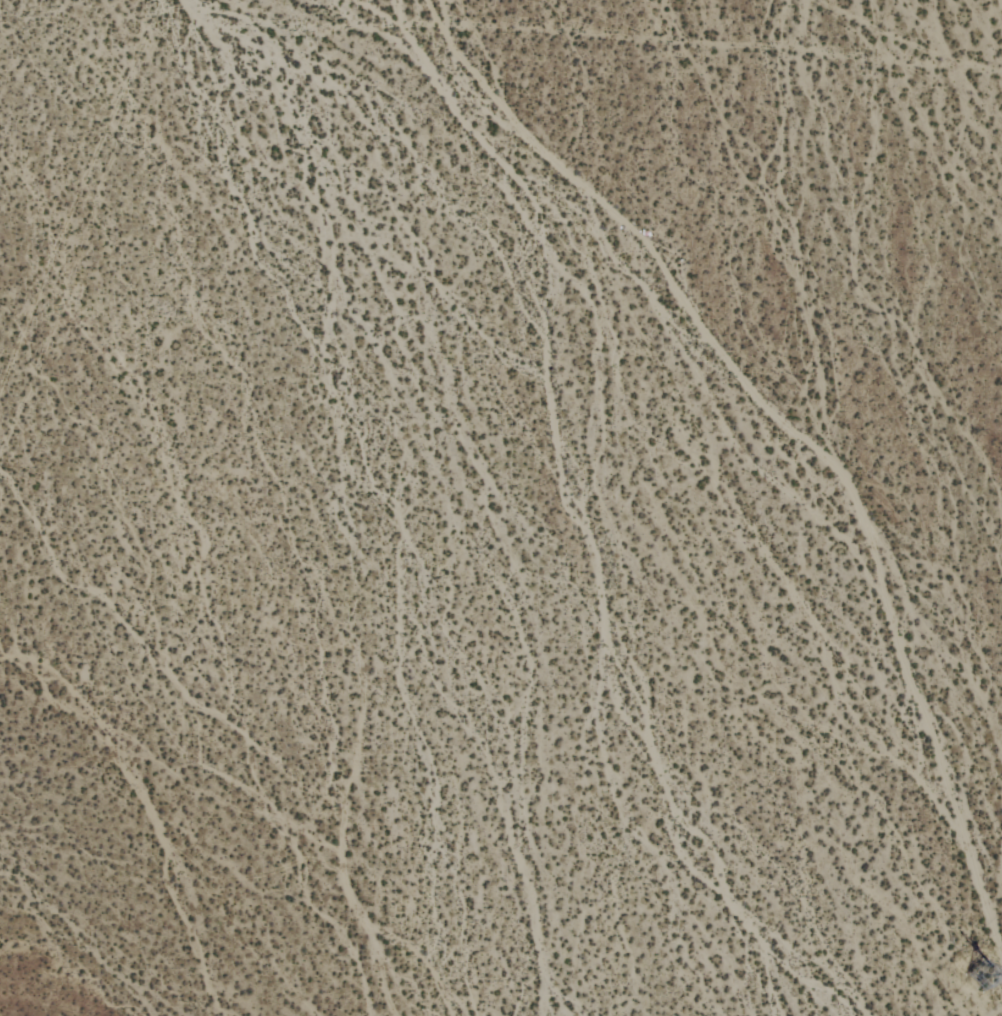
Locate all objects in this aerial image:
power tower: (963, 973)

